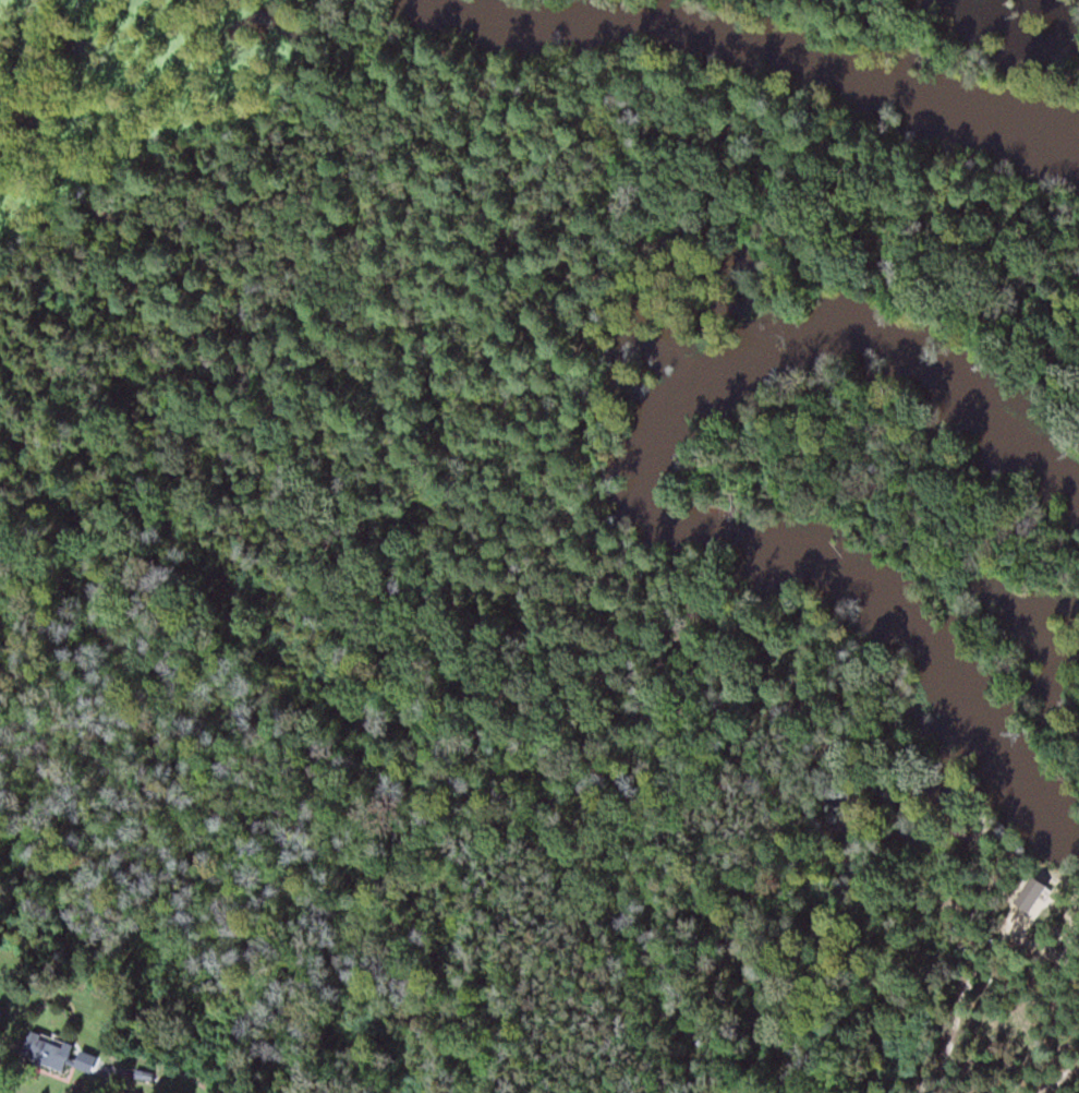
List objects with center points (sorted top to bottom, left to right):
building: (45, 1052)

